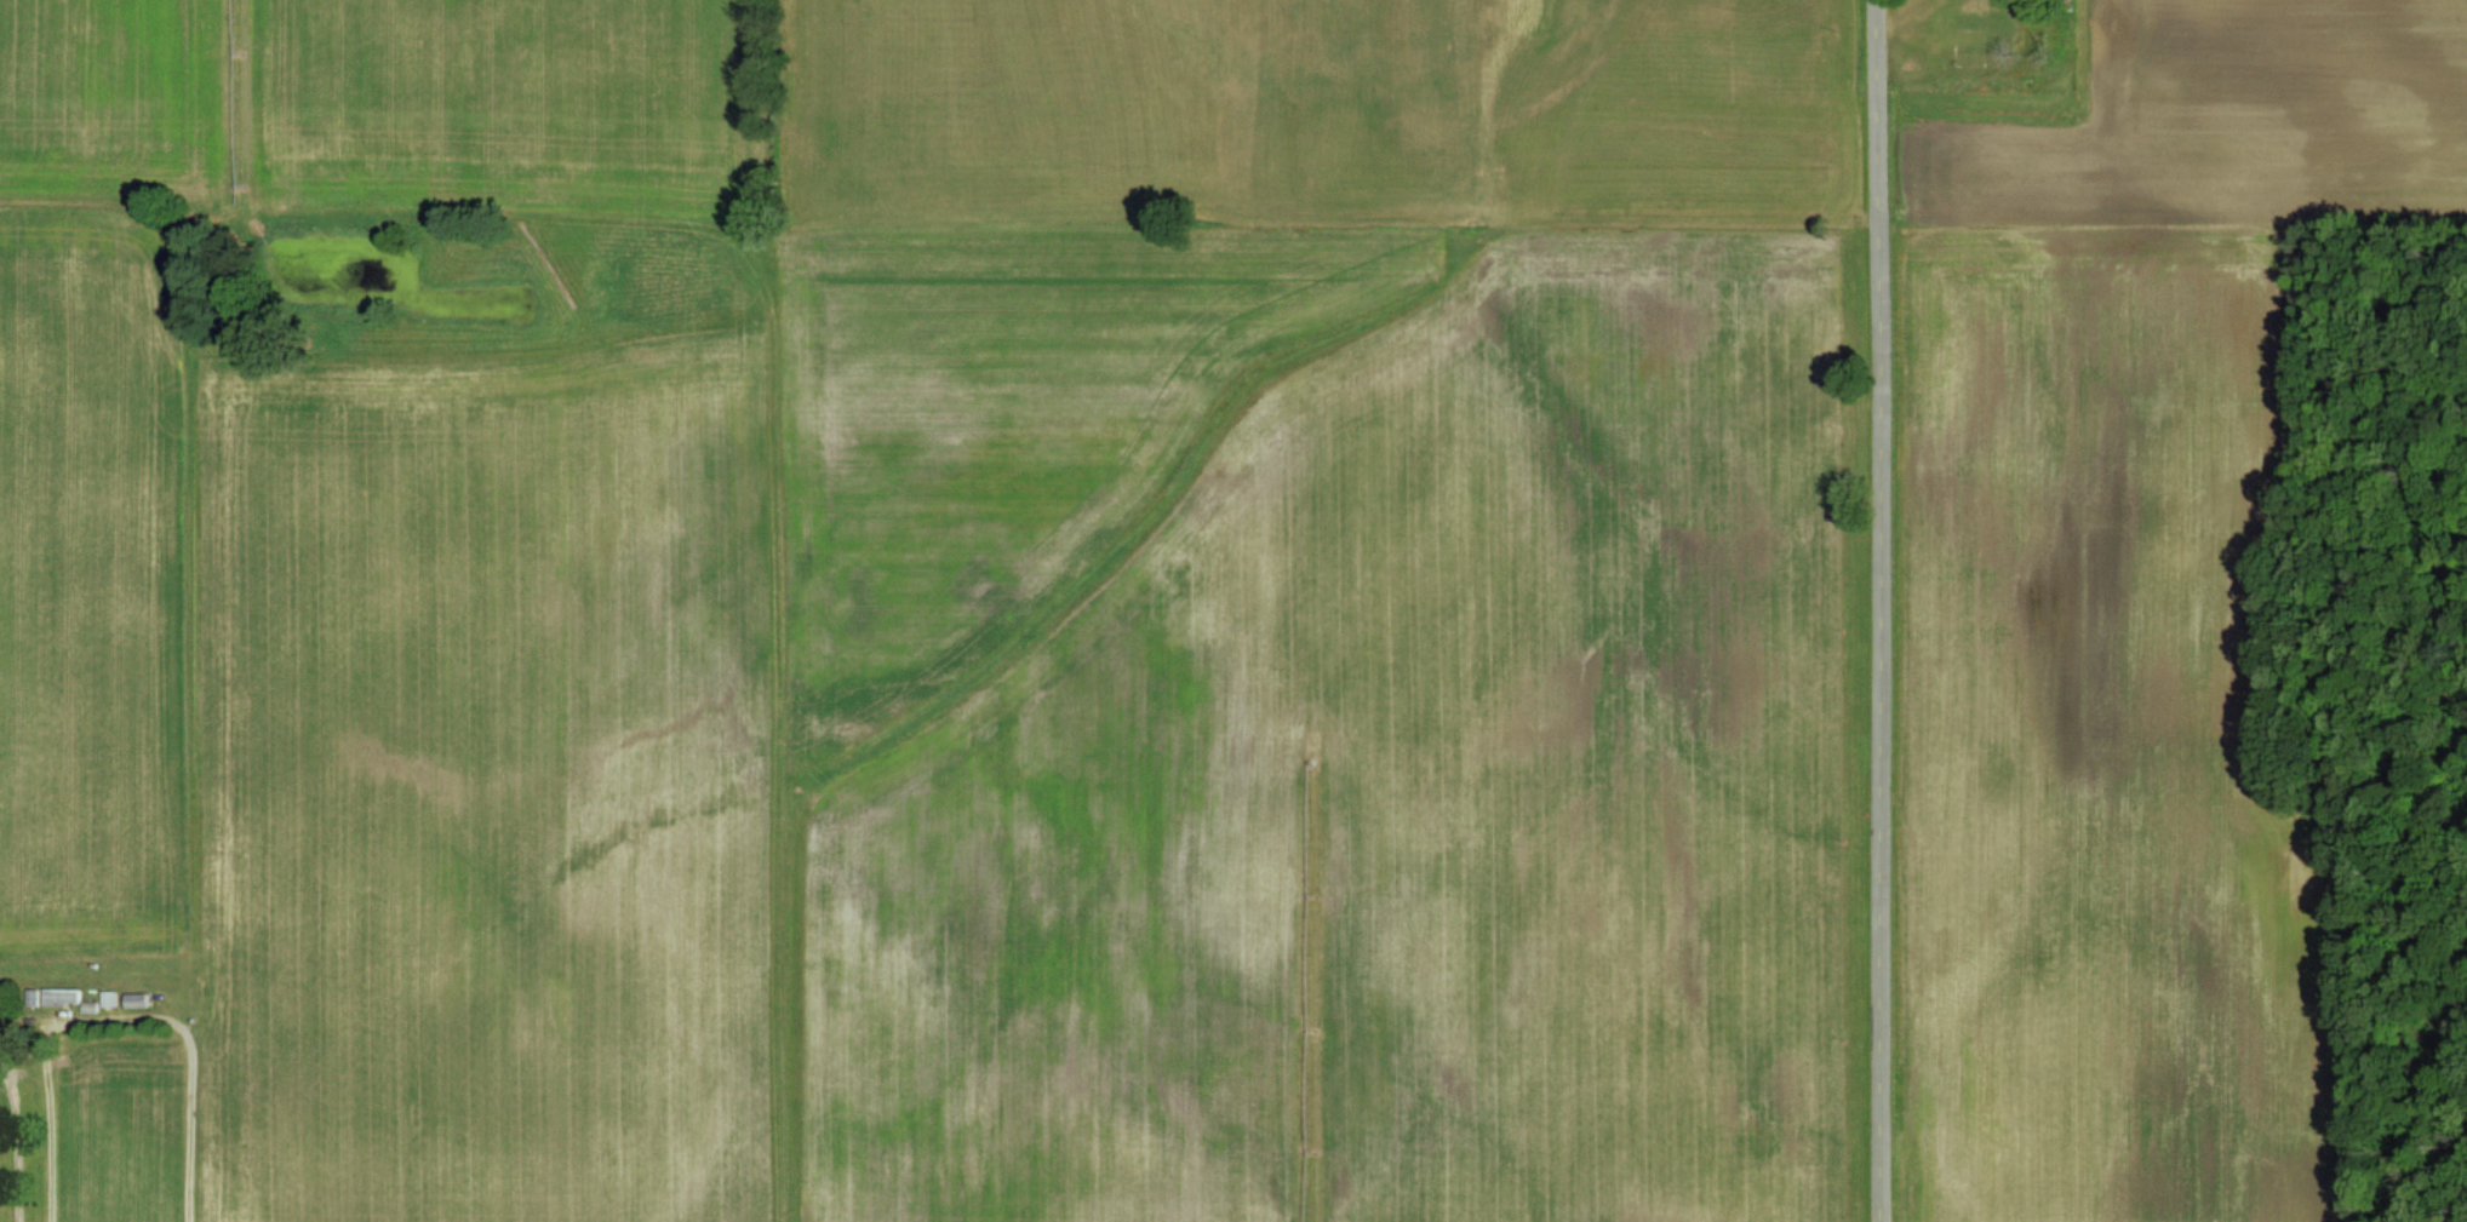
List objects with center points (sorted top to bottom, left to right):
road: (1884, 610)
building: (107, 998)
building: (134, 999)
road: (115, 1015)
road: (12, 1159)

